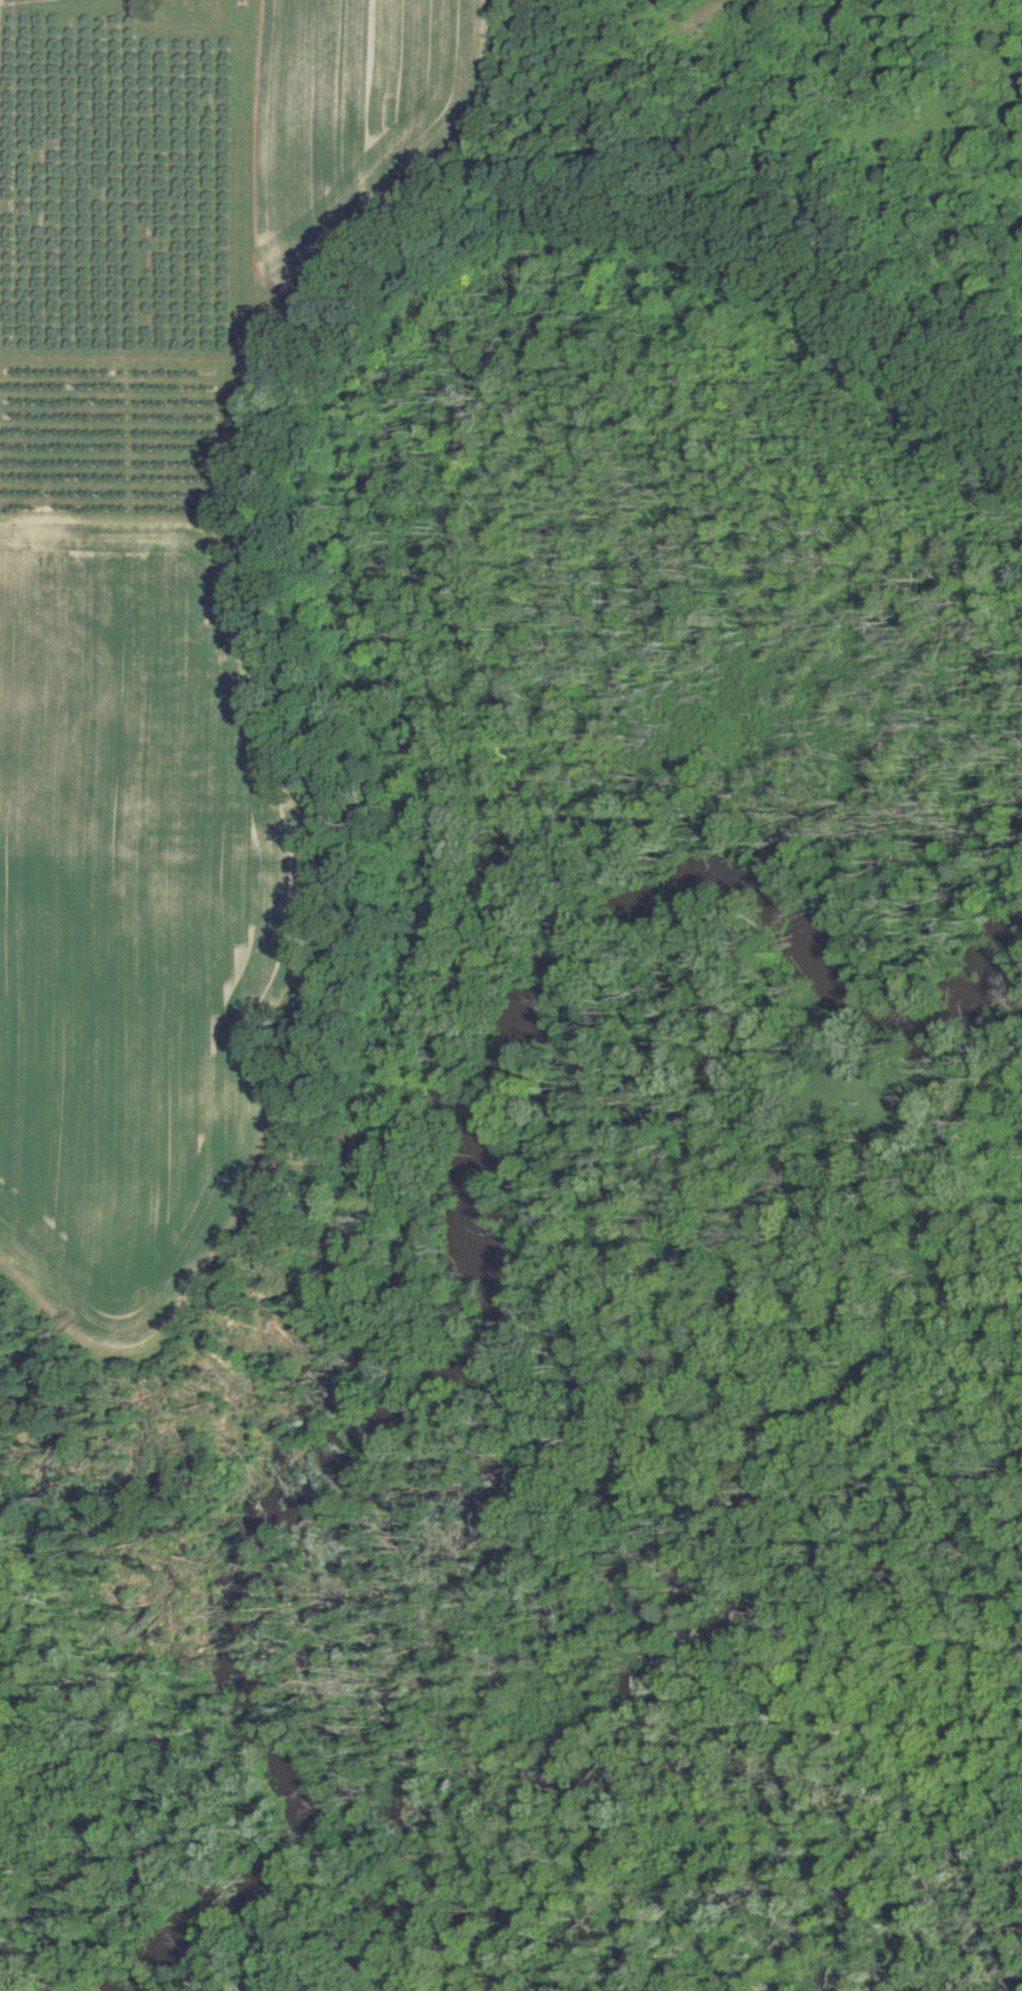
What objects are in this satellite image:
river: (491, 1300)

